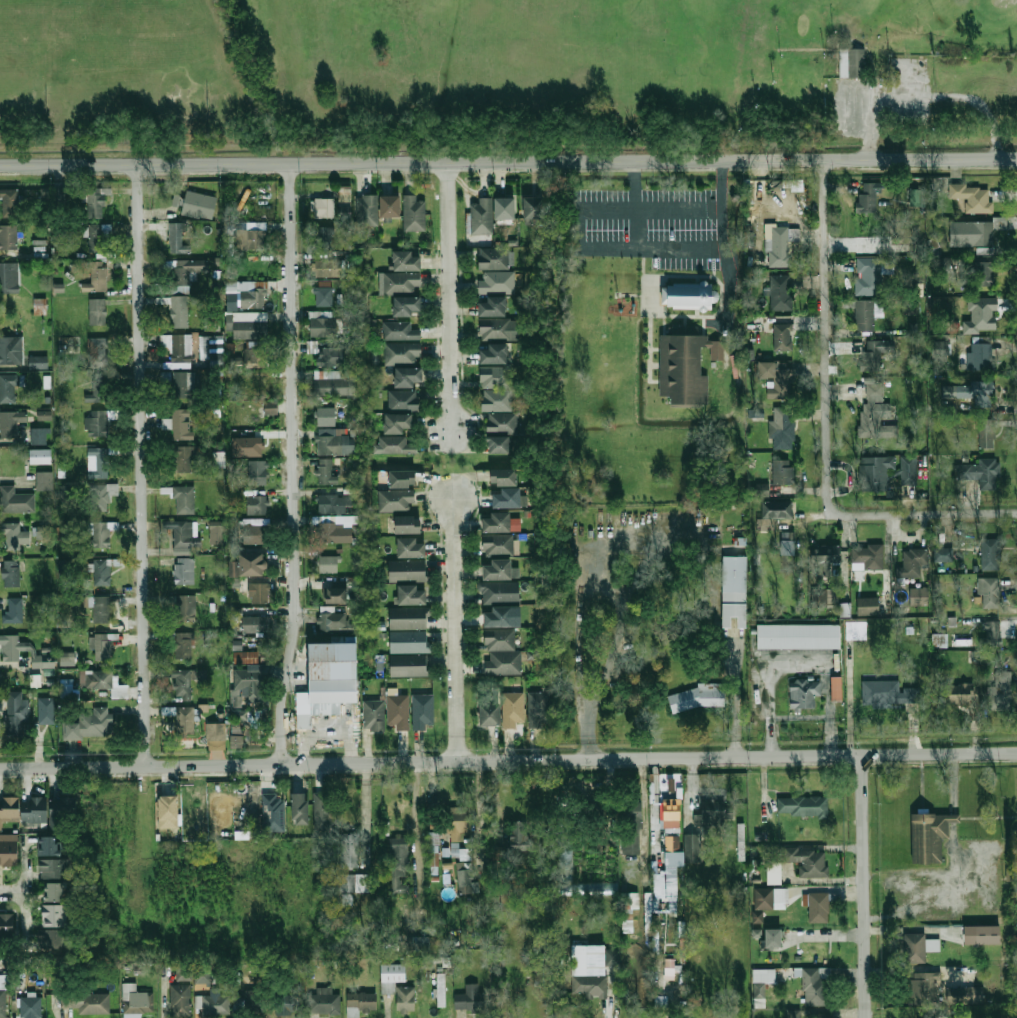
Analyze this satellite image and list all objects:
park: (115, 61)
park: (634, 62)
building: (852, 62)
park: (503, 70)
road: (916, 101)
road: (508, 162)
road: (508, 171)
building: (914, 197)
building: (974, 197)
building: (868, 198)
building: (345, 201)
building: (9, 203)
building: (96, 203)
building: (199, 205)
building: (388, 206)
road: (655, 207)
building: (504, 208)
building: (532, 209)
building: (324, 210)
building: (367, 210)
building: (413, 214)
building: (481, 216)
road: (636, 227)
building: (974, 234)
building: (251, 235)
building: (327, 235)
building: (9, 237)
building: (98, 239)
building: (178, 239)
road: (608, 246)
building: (780, 246)
road: (724, 249)
building: (495, 259)
building: (404, 262)
building: (328, 267)
building: (184, 275)
building: (984, 275)
building: (868, 276)
building: (96, 277)
building: (9, 278)
building: (496, 282)
building: (401, 283)
building: (780, 293)
building: (325, 296)
building: (685, 296)
building: (253, 297)
road: (449, 299)
building: (39, 306)
building: (404, 306)
building: (491, 306)
building: (97, 312)
building: (179, 312)
building: (867, 314)
building: (982, 316)
building: (248, 324)
building: (323, 327)
building: (494, 329)
building: (400, 331)
building: (783, 337)
building: (179, 343)
building: (214, 347)
building: (229, 347)
building: (939, 349)
building: (11, 351)
building: (97, 353)
building: (402, 353)
building: (492, 353)
building: (874, 354)
building: (256, 357)
building: (331, 357)
building: (981, 357)
building: (38, 363)
building: (769, 369)
building: (682, 370)
building: (406, 377)
building: (495, 378)
building: (180, 383)
building: (330, 384)
building: (9, 387)
building: (257, 387)
building: (97, 391)
building: (980, 394)
building: (496, 400)
building: (403, 401)
building: (872, 410)
building: (257, 413)
building: (43, 414)
building: (759, 414)
building: (325, 417)
building: (396, 422)
building: (500, 423)
building: (11, 424)
building: (96, 424)
building: (182, 424)
road: (827, 427)
building: (781, 432)
building: (986, 434)
building: (38, 436)
building: (334, 445)
building: (393, 445)
building: (495, 445)
building: (246, 446)
building: (40, 456)
building: (183, 459)
building: (220, 459)
building: (98, 464)
road: (144, 465)
road: (296, 465)
building: (908, 471)
building: (257, 472)
building: (325, 472)
building: (781, 472)
building: (875, 473)
building: (982, 473)
building: (502, 477)
building: (399, 479)
building: (45, 481)
building: (762, 490)
building: (63, 491)
building: (100, 498)
building: (504, 499)
building: (15, 500)
building: (184, 500)
building: (395, 501)
building: (337, 504)
building: (257, 505)
building: (777, 511)
building: (495, 522)
building: (405, 525)
building: (42, 532)
building: (216, 532)
building: (99, 533)
building: (184, 534)
building: (254, 534)
building: (334, 534)
building: (11, 537)
building: (497, 545)
building: (407, 548)
building: (942, 555)
road: (610, 557)
building: (990, 557)
building: (867, 558)
building: (823, 560)
building: (918, 561)
building: (249, 564)
building: (328, 564)
building: (496, 569)
building: (66, 571)
building: (184, 571)
building: (406, 571)
building: (101, 572)
building: (10, 574)
road: (604, 586)
building: (734, 591)
building: (500, 592)
building: (991, 592)
building: (258, 593)
building: (332, 595)
building: (410, 595)
building: (918, 596)
building: (824, 598)
building: (867, 606)
building: (185, 607)
building: (102, 609)
building: (844, 609)
building: (14, 611)
building: (496, 617)
building: (407, 619)
building: (334, 622)
building: (254, 624)
road: (457, 629)
building: (992, 633)
building: (798, 636)
building: (499, 639)
building: (939, 640)
building: (408, 642)
building: (101, 645)
building: (183, 645)
building: (237, 645)
road: (577, 647)
building: (11, 648)
road: (611, 653)
building: (69, 656)
building: (252, 656)
building: (44, 662)
building: (503, 662)
building: (409, 665)
building: (103, 678)
building: (38, 680)
building: (180, 681)
building: (328, 681)
building: (248, 686)
building: (836, 688)
building: (1001, 690)
building: (66, 691)
building: (803, 693)
building: (888, 693)
building: (960, 693)
building: (699, 696)
road: (735, 697)
building: (398, 709)
building: (512, 709)
building: (537, 709)
building: (423, 712)
building: (487, 713)
building: (374, 715)
building: (17, 716)
building: (46, 718)
building: (183, 719)
building: (99, 721)
building: (235, 728)
building: (74, 729)
building: (215, 732)
road: (586, 732)
building: (236, 741)
road: (508, 759)
building: (802, 806)
building: (298, 807)
road: (368, 808)
building: (39, 810)
building: (324, 811)
building: (166, 812)
building: (273, 813)
building: (712, 814)
building: (593, 818)
building: (456, 822)
building: (631, 827)
building: (702, 830)
building: (519, 835)
building: (928, 836)
building: (435, 840)
building: (51, 845)
building: (692, 848)
building: (9, 850)
building: (350, 850)
building: (457, 851)
building: (673, 855)
building: (435, 859)
building: (565, 859)
building: (808, 860)
building: (399, 864)
building: (54, 868)
building: (773, 872)
building: (356, 882)
building: (465, 882)
road: (864, 885)
building: (587, 888)
building: (56, 891)
road: (13, 892)
road: (26, 893)
building: (662, 895)
building: (769, 898)
building: (347, 899)
building: (818, 907)
building: (628, 913)
building: (56, 915)
building: (757, 916)
building: (8, 925)
building: (756, 933)
building: (981, 935)
building: (54, 938)
building: (771, 938)
road: (829, 938)
building: (418, 942)
building: (915, 948)
building: (811, 952)
building: (612, 957)
building: (183, 970)
building: (540, 970)
building: (672, 970)
building: (202, 973)
building: (584, 974)
building: (764, 975)
building: (926, 985)
building: (817, 986)
building: (397, 989)
building: (441, 989)
building: (965, 995)
building: (468, 997)
building: (181, 1000)
building: (137, 1001)
building: (324, 1001)
building: (88, 1002)
building: (359, 1002)
building: (3, 1003)
building: (287, 1003)
building: (215, 1004)
building: (252, 1004)
building: (31, 1005)
building: (793, 1013)
building: (1014, 1013)
building: (821, 1015)
building: (934, 1017)

